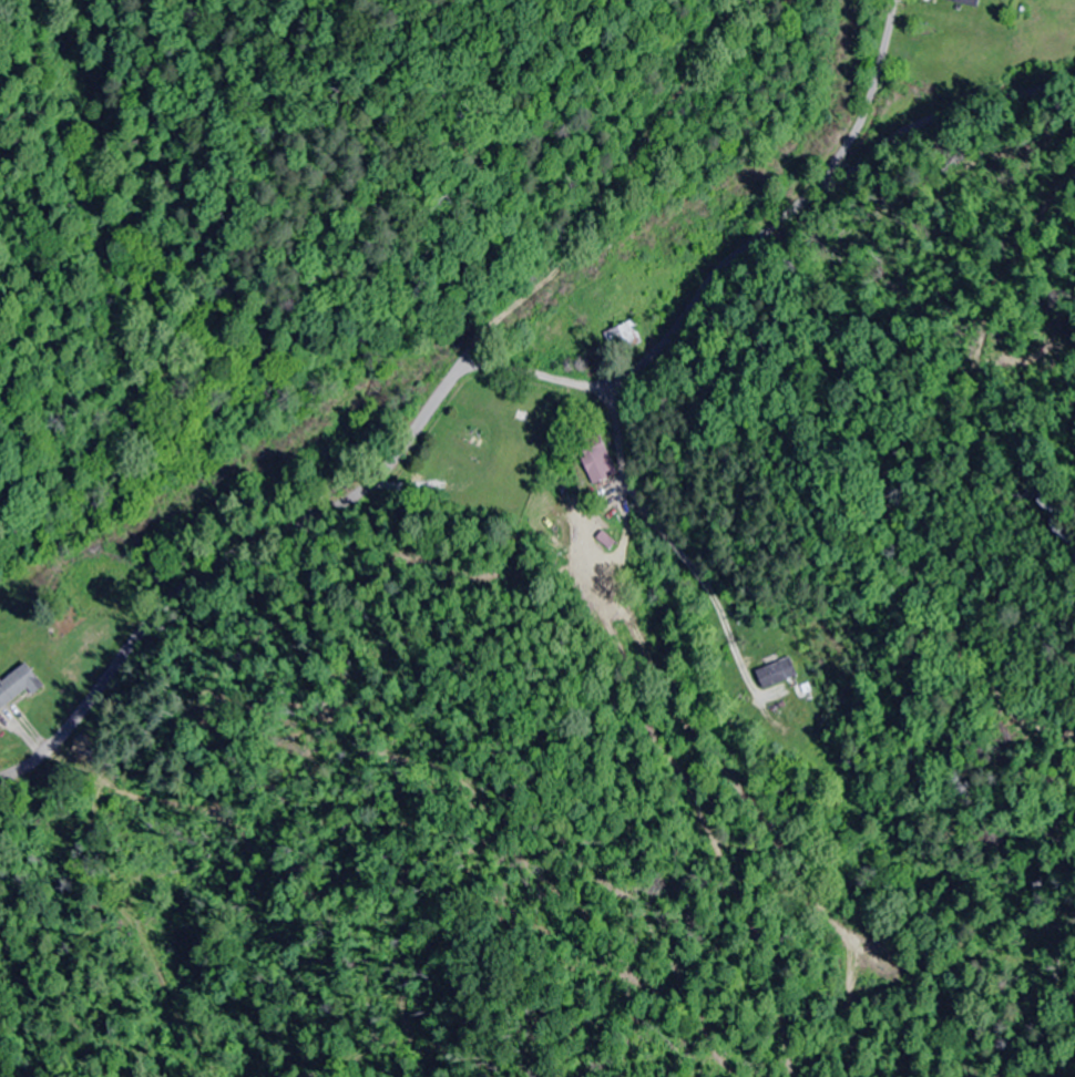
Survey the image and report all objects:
building: (965, 2)
road: (871, 100)
road: (639, 205)
road: (768, 237)
building: (624, 338)
building: (597, 464)
road: (235, 564)
building: (776, 674)
building: (17, 687)

